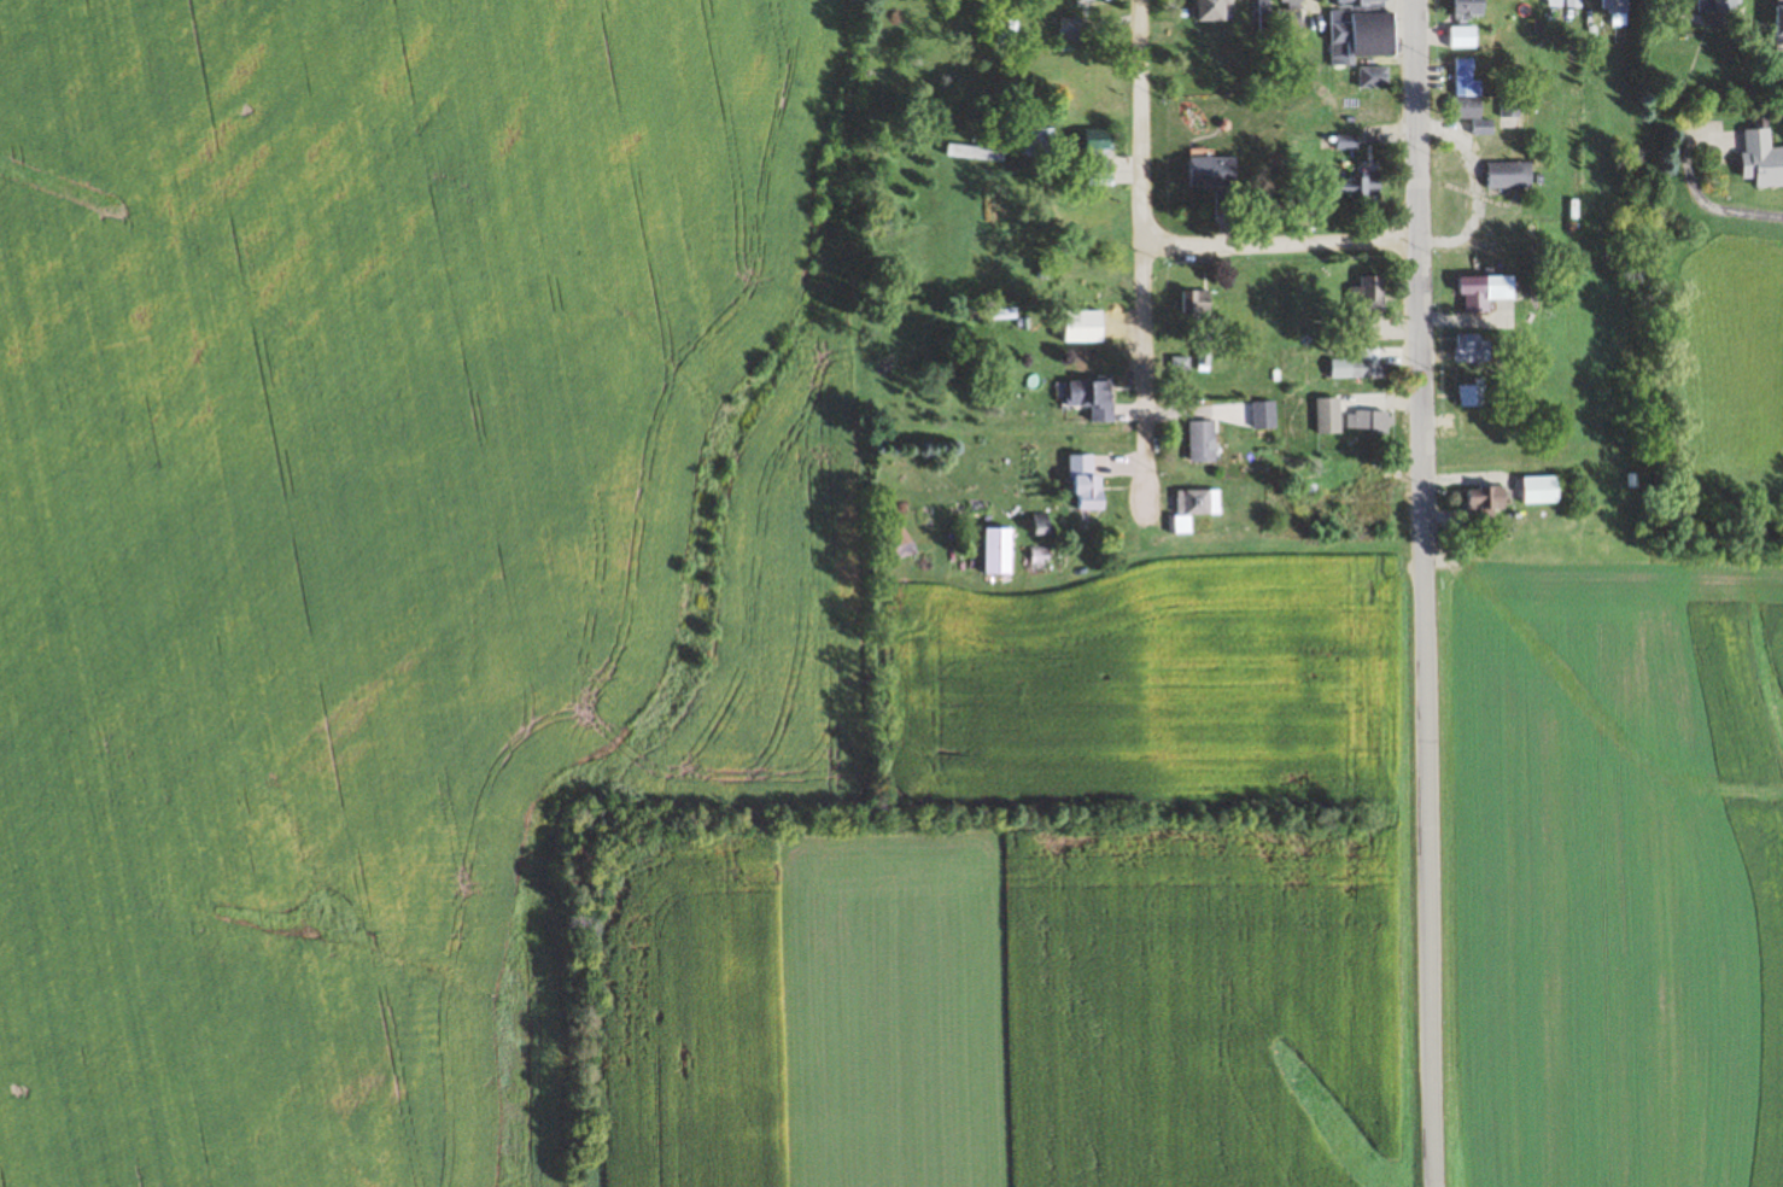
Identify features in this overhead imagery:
building: (1097, 1)
building: (1568, 4)
building: (1474, 7)
building: (1617, 7)
building: (1717, 8)
building: (1218, 11)
building: (1292, 14)
building: (1264, 17)
building: (1779, 21)
building: (1071, 29)
building: (1364, 30)
building: (1466, 37)
building: (1376, 78)
building: (1469, 92)
building: (1514, 106)
building: (1037, 141)
building: (981, 150)
building: (1099, 150)
building: (1764, 158)
building: (1217, 173)
building: (1514, 176)
building: (1101, 179)
building: (1361, 187)
road: (1285, 247)
road: (1146, 256)
building: (1072, 290)
building: (1490, 292)
building: (1198, 303)
building: (1368, 305)
building: (1474, 349)
building: (1182, 366)
building: (1361, 368)
building: (1474, 396)
building: (1094, 397)
building: (1267, 415)
building: (1331, 415)
building: (1370, 422)
building: (1205, 442)
building: (1088, 483)
building: (1368, 487)
building: (1545, 490)
building: (1490, 502)
building: (1197, 507)
building: (1001, 551)
building: (1044, 561)
road: (1428, 592)

